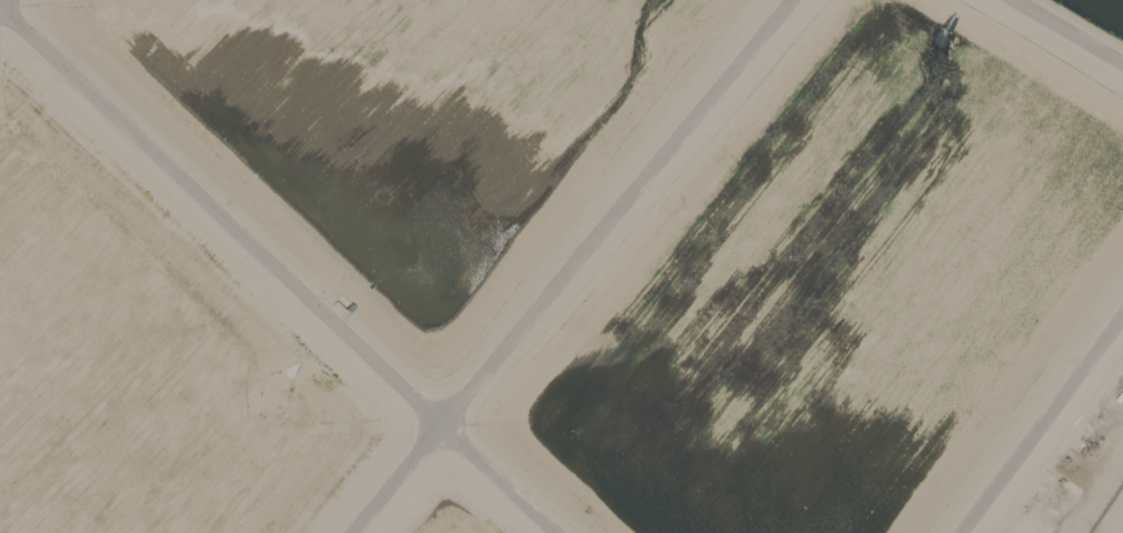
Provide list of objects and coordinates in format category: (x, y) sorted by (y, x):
road: (1067, 32)
road: (568, 266)
road: (277, 270)
road: (1040, 421)

